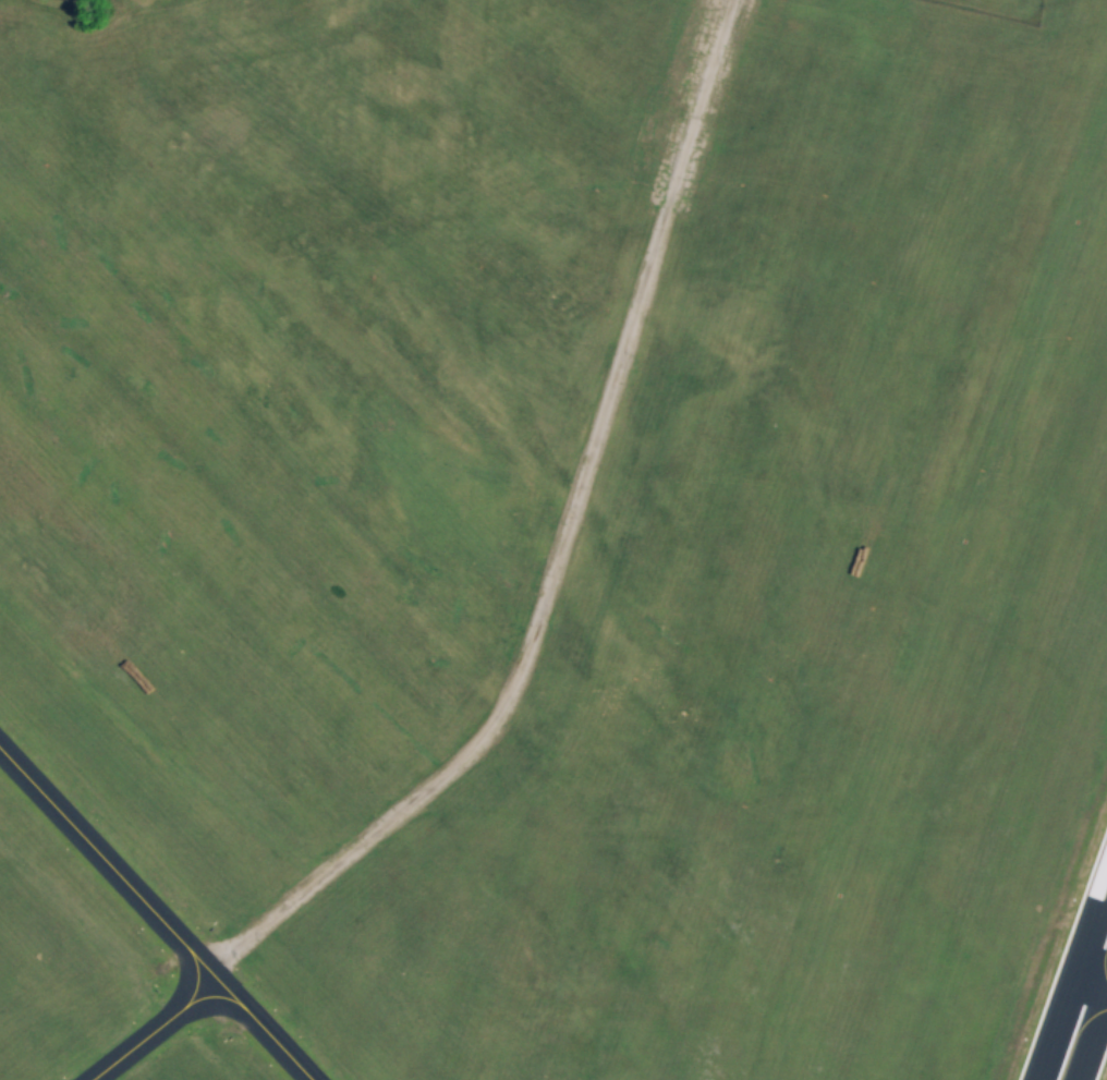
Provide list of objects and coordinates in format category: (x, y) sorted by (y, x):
airport: (553, 539)
road: (557, 542)
airport taxiway: (155, 914)
airport taxiway: (187, 974)
airport taxiway: (1095, 996)
airport runway: (1079, 1002)
airport taxiway: (159, 1021)

